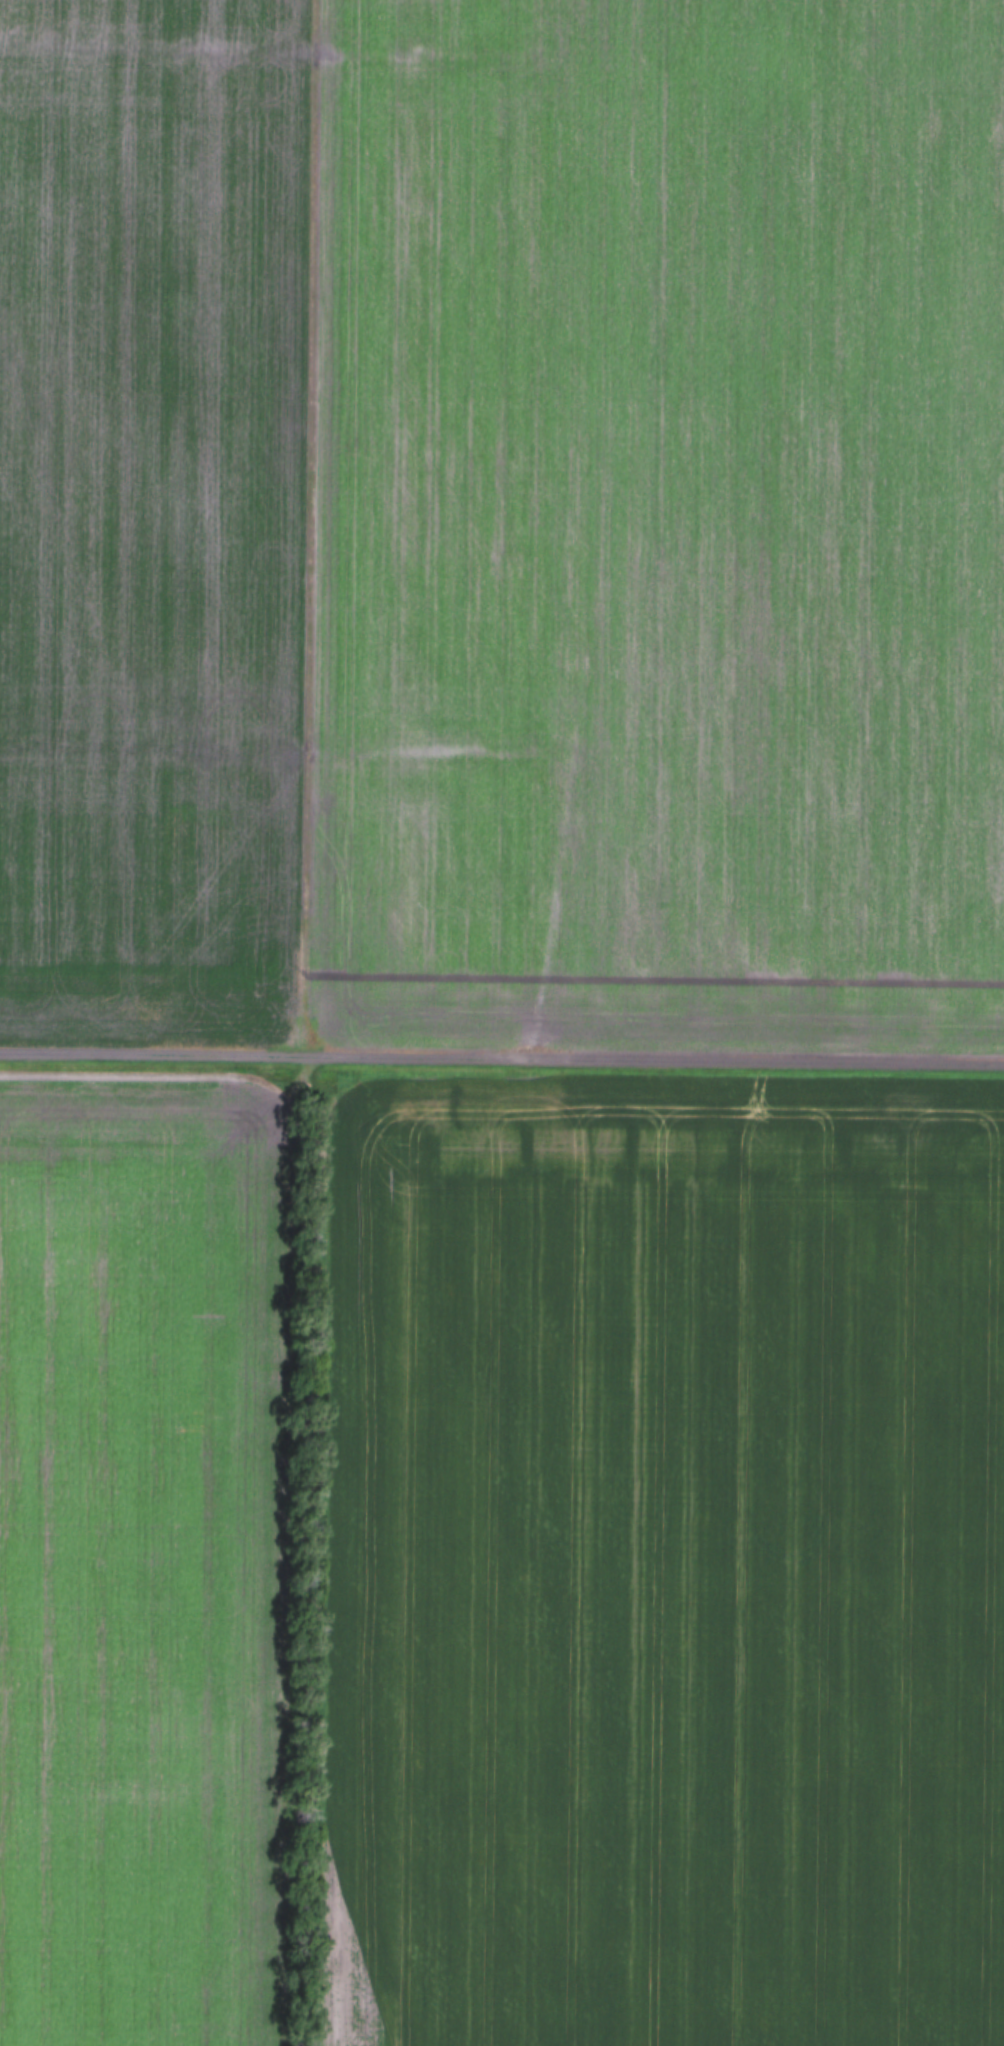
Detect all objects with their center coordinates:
road: (502, 1058)

